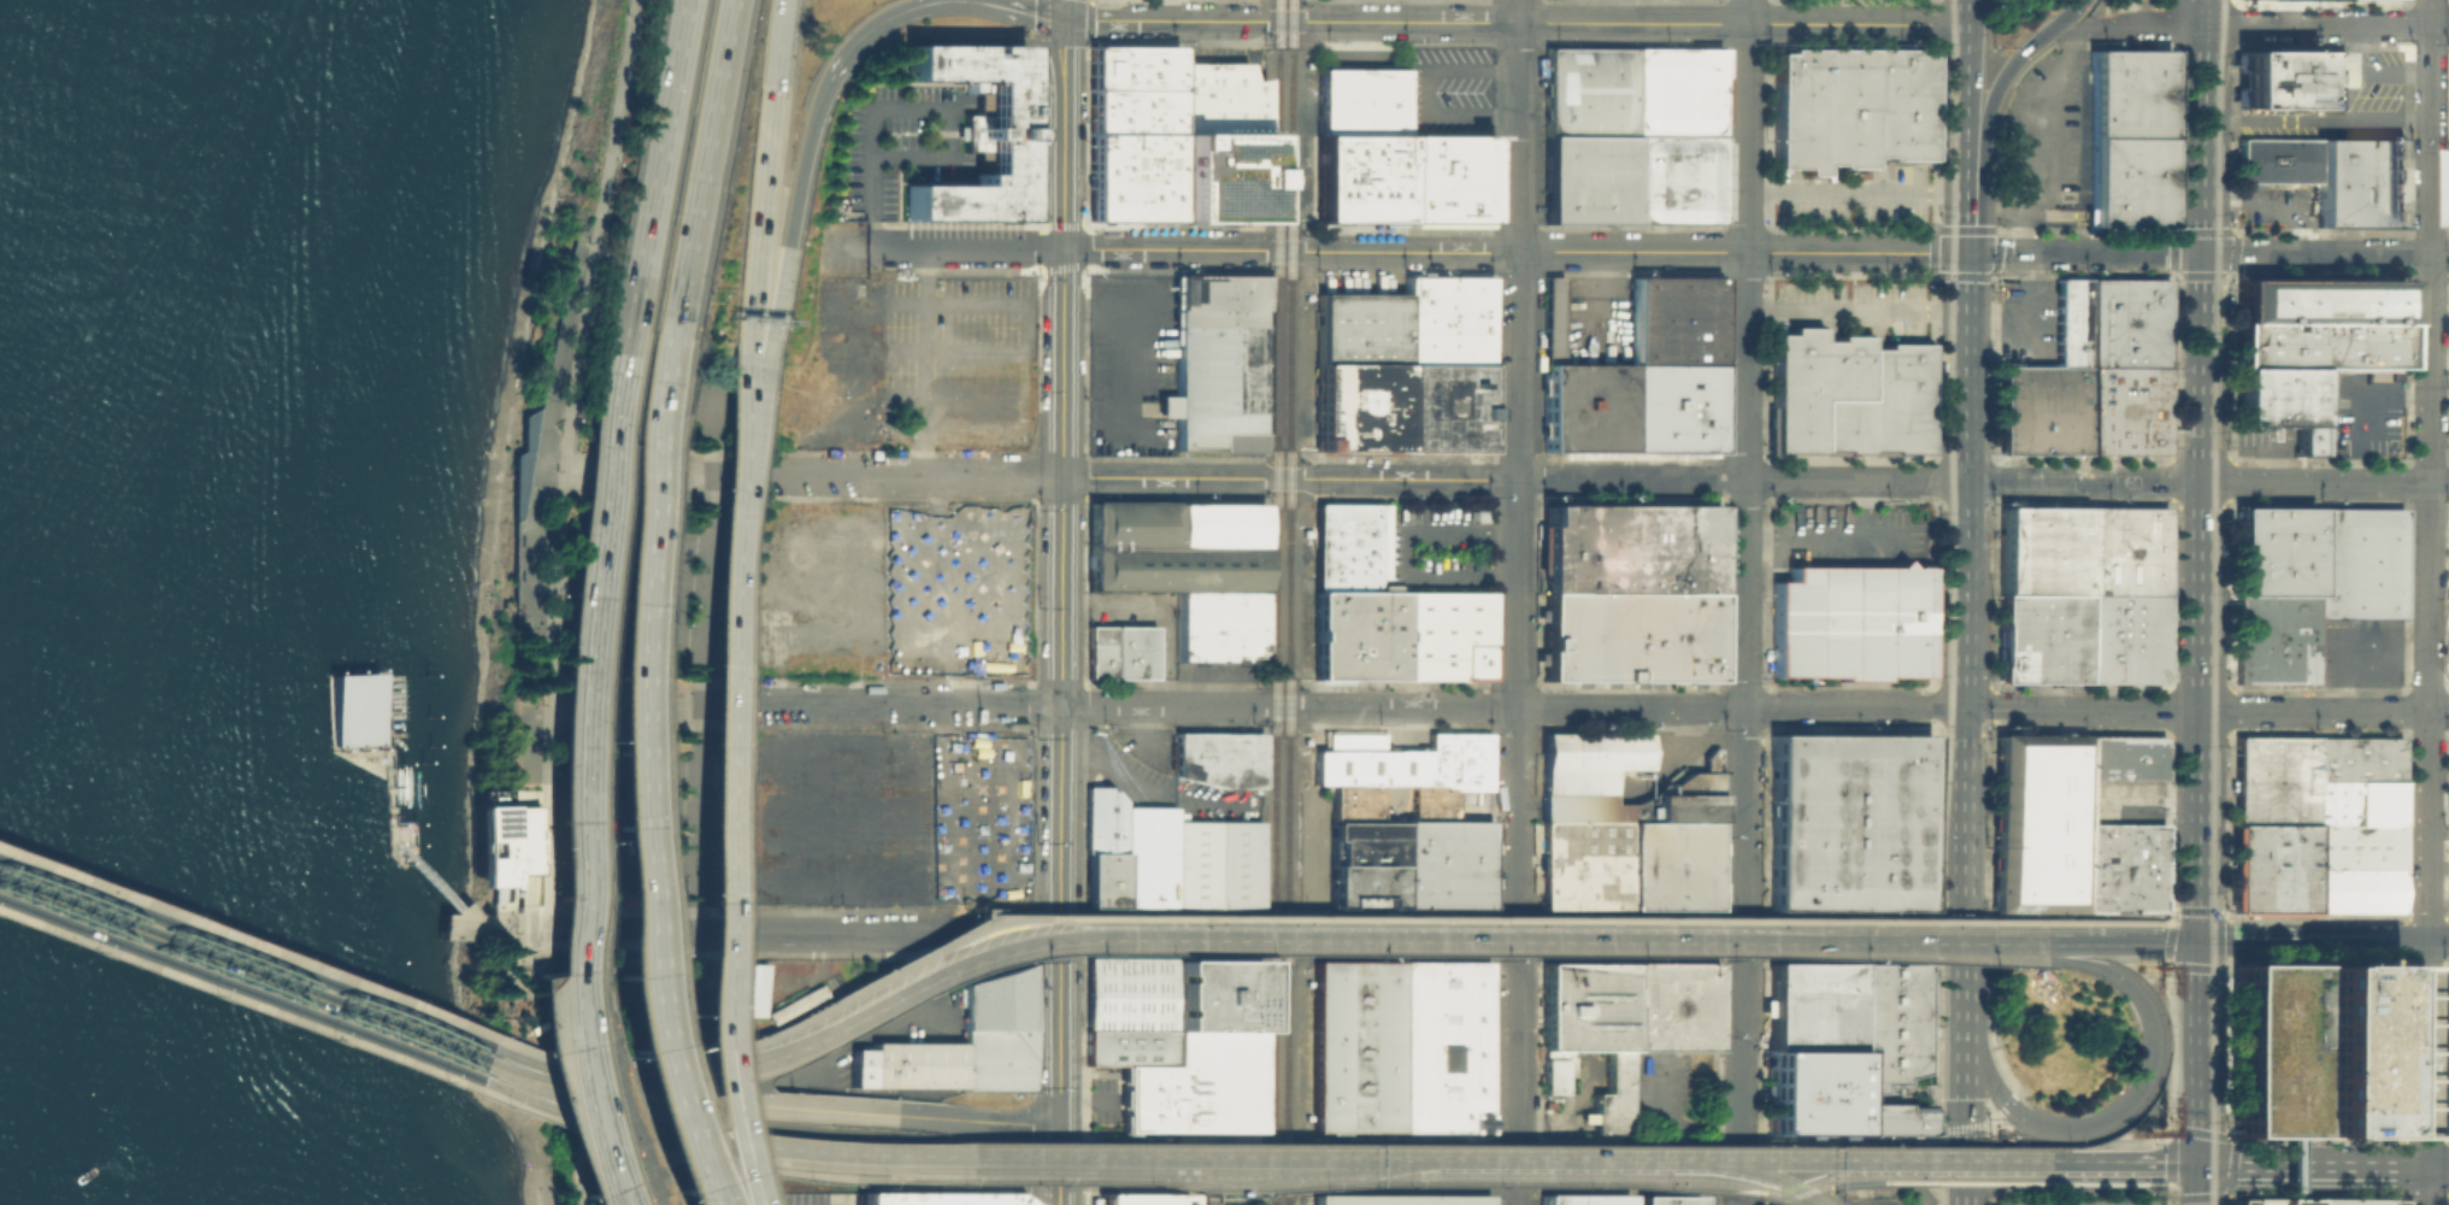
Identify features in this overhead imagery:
parking lot: (2131, 0)
road: (929, 2)
road: (1052, 10)
road: (1961, 12)
road: (2066, 16)
road: (1175, 19)
road: (1625, 23)
road: (2248, 25)
road: (2392, 74)
building: (2278, 82)
building: (2330, 82)
parking lot: (1435, 84)
building: (1184, 86)
building: (2127, 95)
road: (1991, 100)
building: (1365, 102)
road: (1962, 106)
parking lot: (2344, 106)
building: (1848, 107)
building: (1131, 110)
road: (2315, 119)
road: (1744, 125)
parking lot: (2045, 130)
building: (973, 133)
building: (1636, 135)
road: (2029, 137)
parking lot: (902, 141)
road: (2439, 145)
road: (660, 155)
road: (705, 158)
building: (2276, 161)
road: (873, 164)
road: (763, 167)
building: (1131, 176)
building: (1218, 176)
building: (1364, 181)
building: (1452, 181)
building: (2126, 183)
building: (2360, 183)
road: (1854, 195)
parking lot: (1853, 202)
parking lot: (2265, 206)
road: (2267, 206)
road: (796, 210)
road: (1996, 210)
road: (1965, 219)
road: (967, 247)
road: (1513, 251)
traffic signals: (1965, 252)
road: (1995, 252)
traffic signals: (2201, 253)
road: (2237, 253)
river: (75, 264)
railway: (2225, 282)
road: (2429, 299)
road: (2438, 300)
parking lot: (1130, 304)
road: (1854, 306)
parking lot: (1858, 307)
parking lot: (1596, 317)
building: (1449, 318)
building: (2125, 323)
parking lot: (2027, 324)
building: (2071, 324)
building: (2321, 325)
building: (1361, 327)
road: (2026, 329)
road: (577, 351)
road: (922, 361)
parking lot: (956, 361)
road: (2438, 363)
road: (1965, 366)
building: (1190, 368)
building: (1641, 371)
railway: (1937, 389)
building: (1849, 395)
building: (2279, 402)
building: (1449, 405)
building: (1361, 406)
road: (2365, 410)
building: (2043, 411)
building: (2125, 411)
road: (742, 412)
road: (753, 413)
building: (2320, 413)
parking lot: (2366, 413)
road: (542, 441)
parking lot: (2265, 441)
parking lot: (1132, 443)
road: (2276, 454)
road: (2201, 471)
road: (626, 475)
road: (840, 475)
road: (1025, 476)
road: (1512, 477)
road: (1744, 480)
road: (2207, 482)
road: (1862, 509)
parking lot: (1849, 535)
road: (1821, 537)
park: (551, 540)
parking lot: (1435, 548)
road: (1412, 552)
building: (2042, 552)
building: (2274, 552)
building: (2125, 553)
building: (2356, 563)
building: (1189, 569)
parking lot: (954, 588)
building: (1630, 594)
road: (1964, 594)
road: (1061, 601)
railway: (1274, 601)
railway: (1288, 601)
road: (1515, 601)
railway: (2213, 601)
railway: (1949, 602)
building: (1388, 613)
road: (637, 615)
building: (1852, 623)
building: (2041, 640)
building: (2273, 640)
building: (2124, 641)
road: (2351, 647)
parking lot: (2356, 651)
building: (1120, 653)
road: (581, 658)
road: (700, 663)
parking lot: (1218, 671)
road: (618, 703)
road: (713, 703)
road: (1349, 706)
building: (357, 709)
road: (2206, 710)
road: (389, 727)
pier: (371, 741)
building: (2123, 757)
building: (2355, 757)
building: (1220, 758)
building: (2271, 778)
building: (1574, 780)
road: (1962, 786)
building: (2355, 800)
parking lot: (2123, 801)
road: (2151, 801)
road: (394, 813)
parking lot: (830, 816)
parking lot: (977, 817)
building: (1845, 817)
road: (1743, 818)
building: (1407, 822)
building: (2039, 822)
building: (506, 842)
road: (713, 846)
building: (2354, 846)
road: (546, 847)
building: (1167, 857)
road: (1008, 862)
building: (1583, 864)
building: (1671, 865)
building: (2123, 868)
building: (2271, 868)
road: (436, 884)
building: (2354, 892)
road: (1961, 895)
road: (2426, 901)
road: (1043, 910)
road: (2185, 911)
road: (977, 917)
road: (1012, 918)
road: (1544, 919)
road: (2172, 919)
road: (2103, 922)
road: (528, 924)
road: (1077, 924)
road: (476, 925)
road: (810, 925)
road: (1511, 928)
road: (2171, 933)
road: (493, 937)
road: (681, 939)
road: (1479, 939)
road: (2312, 941)
road: (1948, 942)
road: (2437, 942)
road: (2120, 944)
traffic signals: (2198, 944)
road: (257, 946)
road: (255, 954)
road: (1961, 959)
road: (663, 960)
road: (252, 974)
road: (549, 974)
road: (906, 981)
building: (750, 988)
road: (249, 991)
building: (1129, 993)
parking lot: (1129, 993)
building: (1215, 994)
road: (248, 1000)
road: (1072, 1005)
road: (828, 1006)
railway: (2221, 1016)
building: (1619, 1022)
building: (1001, 1031)
railway: (1935, 1034)
building: (1838, 1038)
building: (1129, 1046)
building: (1356, 1046)
road: (1741, 1046)
building: (1444, 1047)
building: (2314, 1048)
road: (1973, 1051)
road: (2198, 1053)
road: (1960, 1056)
road: (549, 1060)
road: (588, 1060)
road: (667, 1063)
building: (911, 1064)
road: (2151, 1064)
road: (526, 1075)
road: (569, 1078)
road: (653, 1078)
road: (617, 1081)
building: (1199, 1086)
road: (572, 1091)
parking lot: (1672, 1092)
road: (566, 1094)
road: (742, 1094)
road: (570, 1097)
parking lot: (1573, 1097)
traffic signals: (1960, 1097)
road: (540, 1099)
parking lot: (1102, 1100)
road: (1087, 1101)
road: (663, 1103)
road: (600, 1107)
road: (837, 1109)
road: (924, 1116)
road: (1005, 1121)
road: (578, 1122)
road: (1976, 1123)
road: (675, 1129)
road: (1464, 1152)
road: (856, 1157)
road: (1003, 1157)
road: (1559, 1157)
road: (1990, 1157)
road: (1374, 1158)
road: (1137, 1159)
road: (1870, 1159)
road: (1905, 1164)
road: (1949, 1164)
road: (1960, 1164)
road: (2119, 1164)
traffic signals: (2197, 1165)
road: (2323, 1165)
road: (764, 1169)
road: (2286, 1169)
road: (1258, 1174)
road: (908, 1175)
road: (661, 1176)
road: (1755, 1177)
road: (1903, 1178)
road: (1967, 1181)
road: (1035, 1182)
road: (2159, 1182)
road: (1491, 1183)
road: (1741, 1183)
road: (2197, 1185)
road: (2079, 1192)
road: (2170, 1193)
road: (1205, 1195)
road: (1748, 1195)
road: (1772, 1195)
building: (935, 1199)
building: (1142, 1199)
building: (1399, 1200)
building: (1579, 1200)
building: (1666, 1200)
parking lot: (2074, 1201)
building: (2312, 1203)
parking lot: (2312, 1203)

